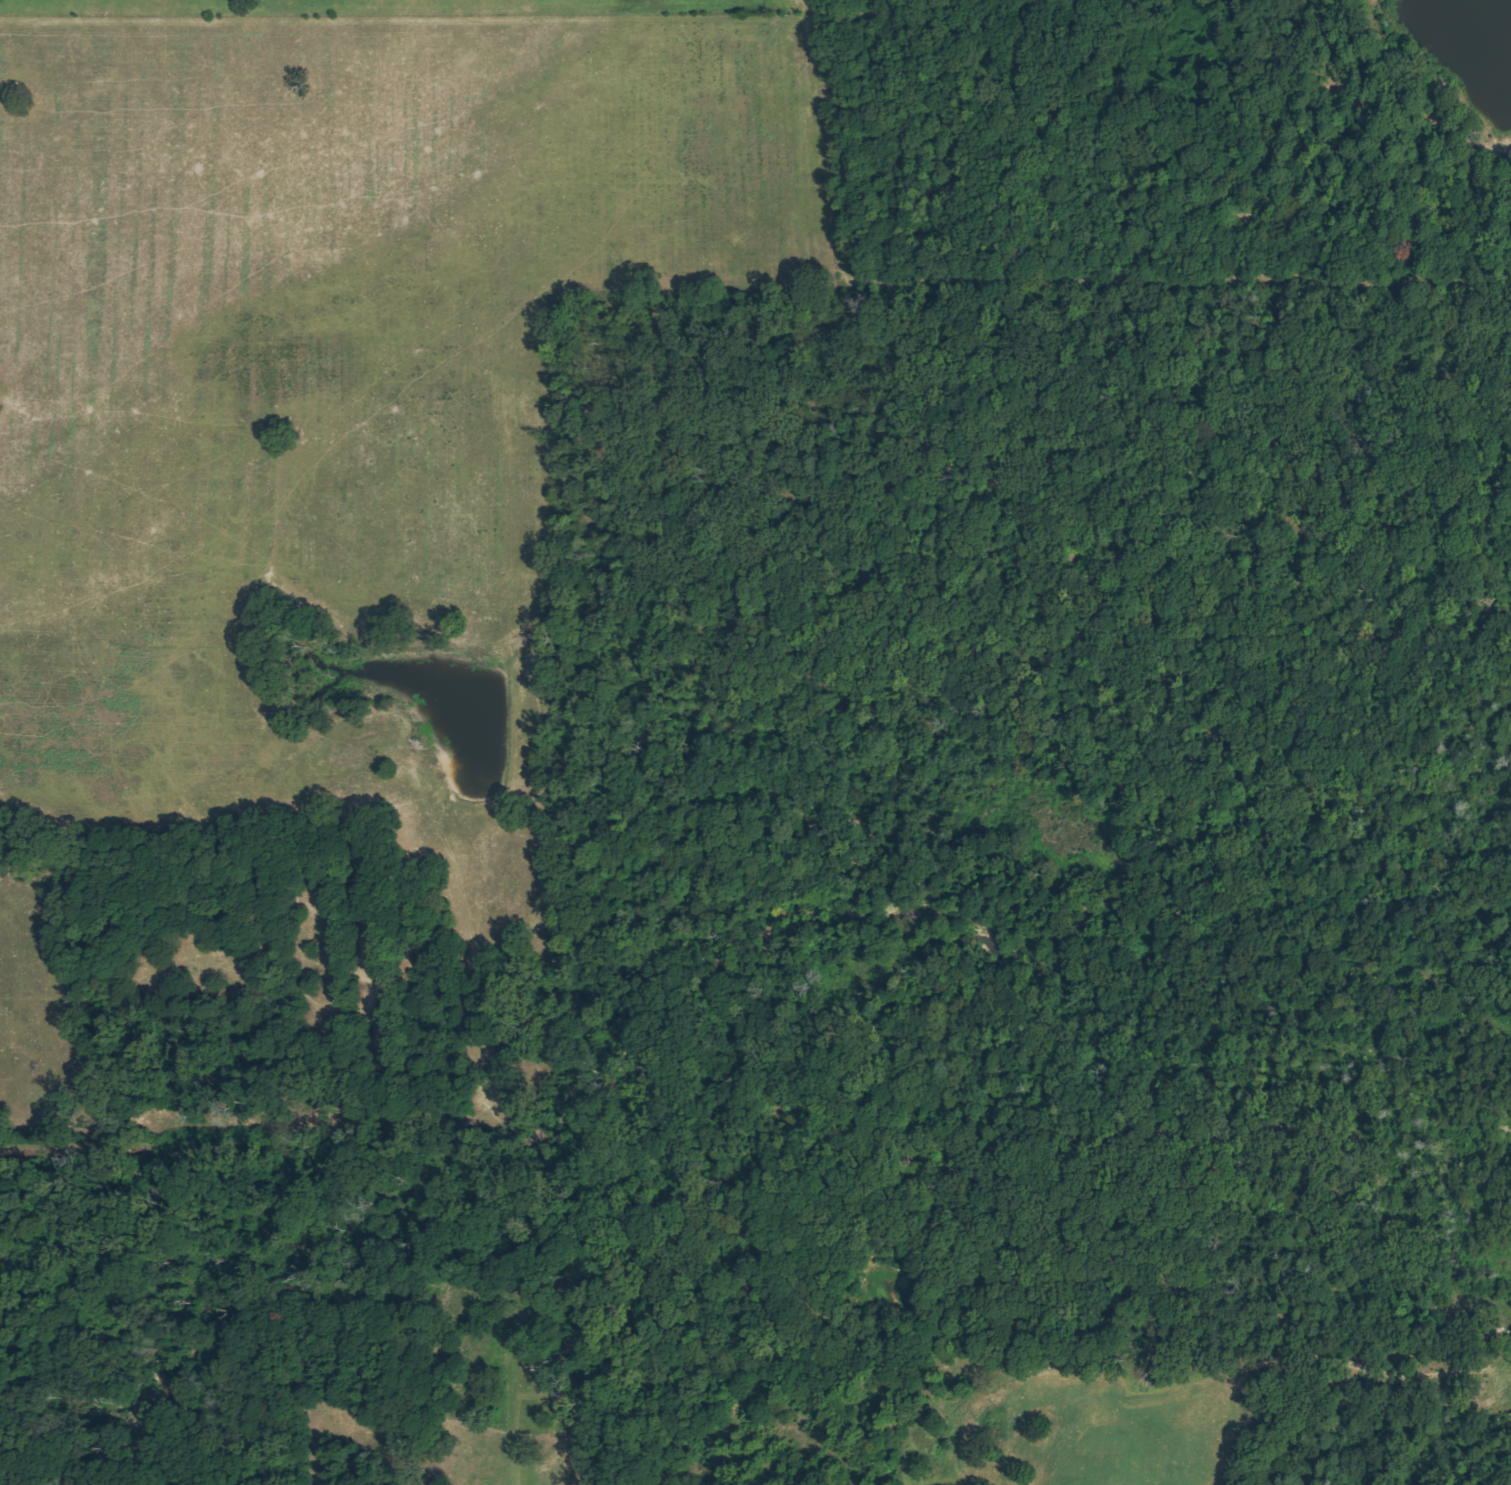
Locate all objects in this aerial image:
road: (158, 1134)

